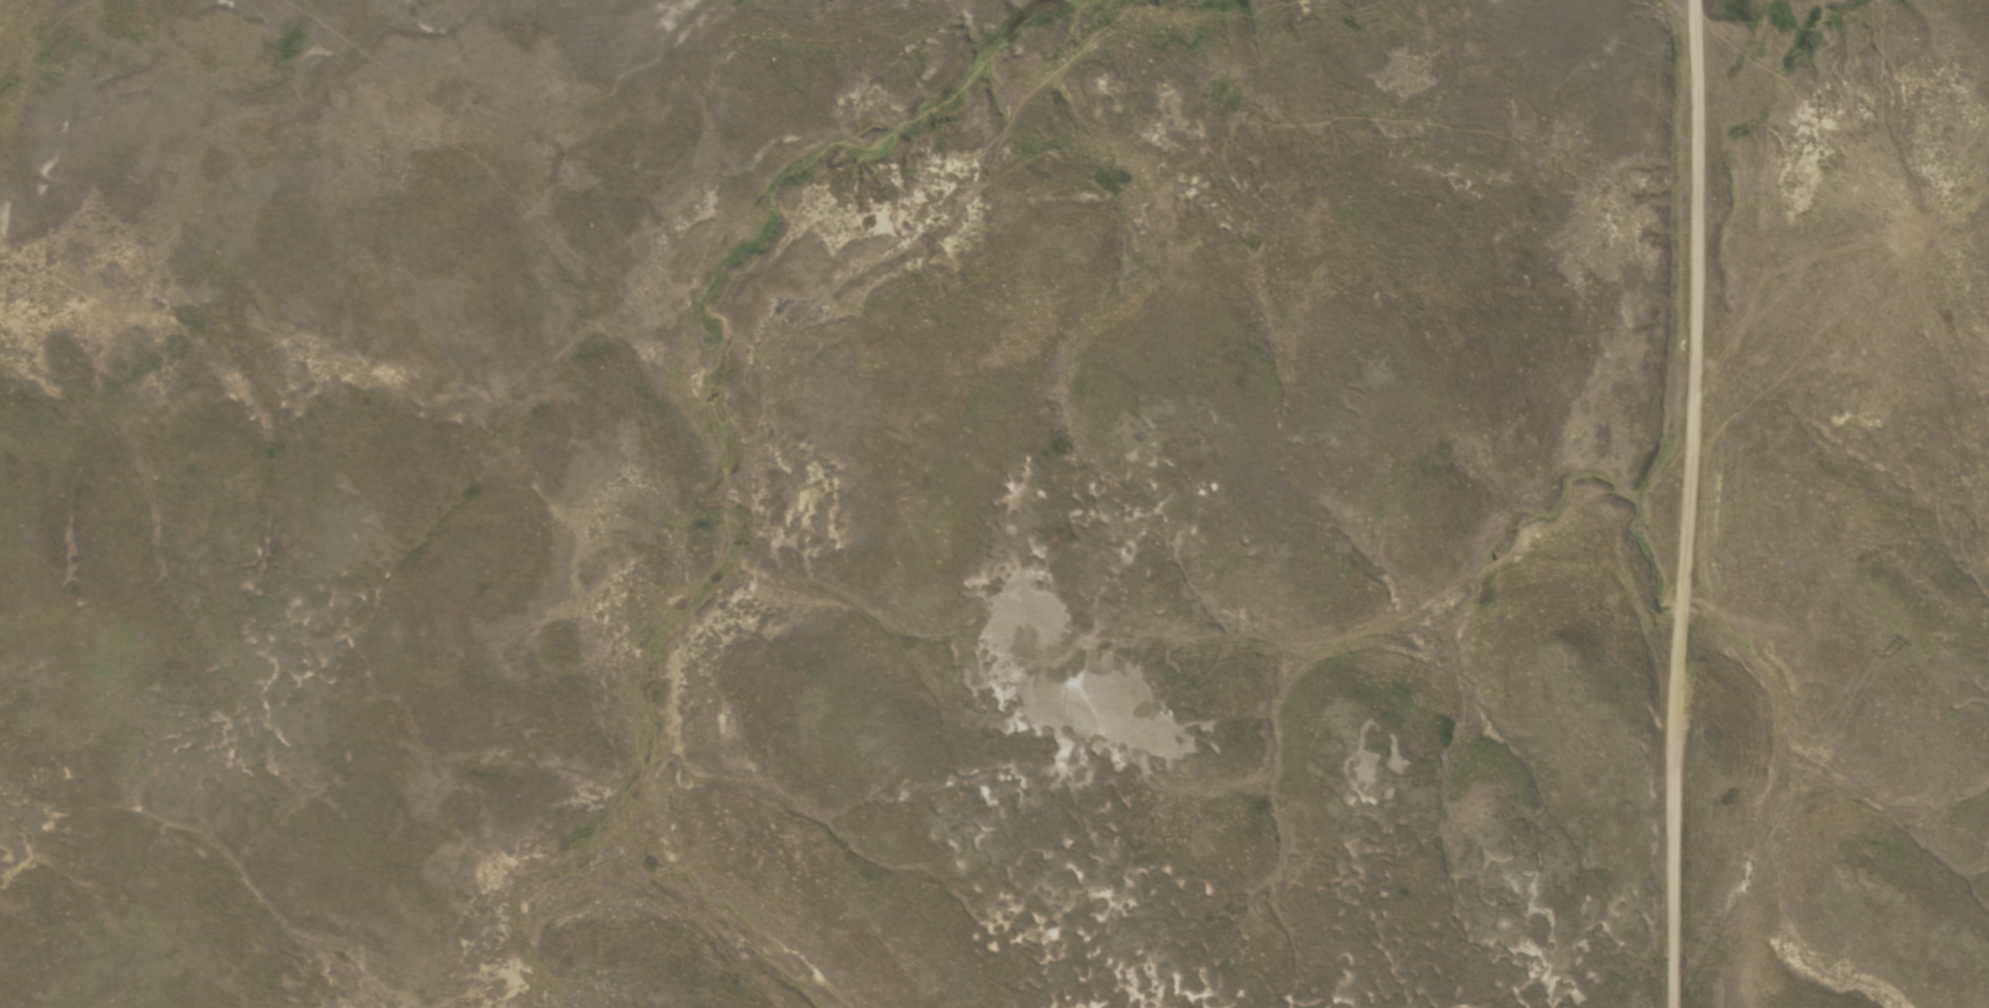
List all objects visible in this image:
road: (1685, 504)
power tower: (1886, 652)

